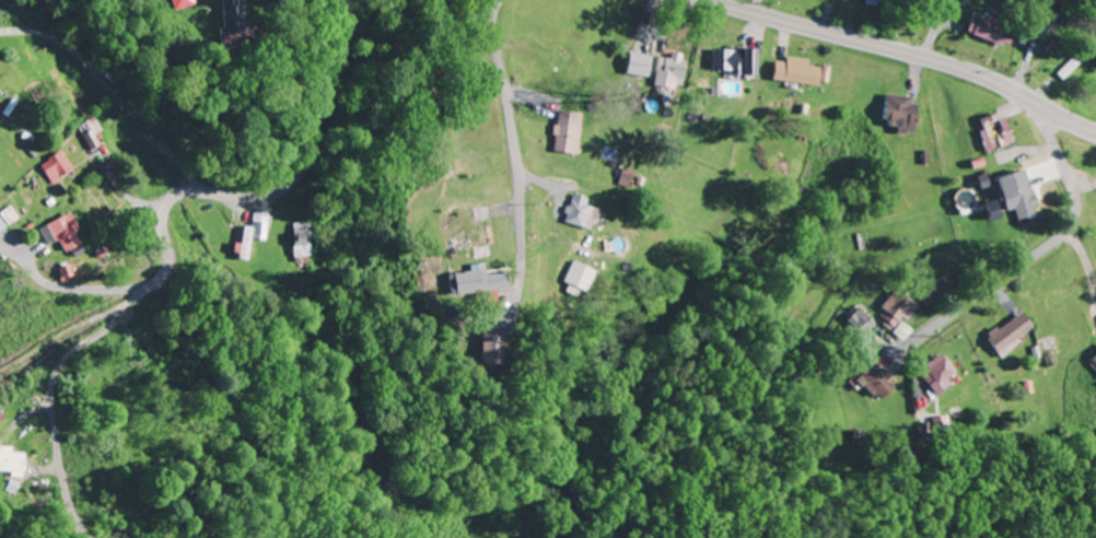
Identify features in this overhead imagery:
building: (867, 0)
building: (177, 2)
building: (226, 9)
building: (986, 30)
road: (900, 51)
building: (731, 59)
building: (1074, 59)
building: (555, 61)
building: (638, 63)
building: (669, 70)
road: (110, 90)
building: (898, 112)
building: (992, 130)
building: (566, 131)
road: (517, 163)
building: (1016, 195)
road: (246, 200)
building: (576, 210)
building: (60, 231)
building: (252, 232)
building: (466, 234)
building: (303, 238)
road: (1033, 258)
building: (476, 280)
building: (896, 307)
building: (856, 323)
building: (1007, 332)
road: (45, 344)
building: (487, 348)
building: (1093, 359)
building: (937, 373)
building: (873, 381)
road: (51, 405)
building: (0, 417)
building: (10, 459)

